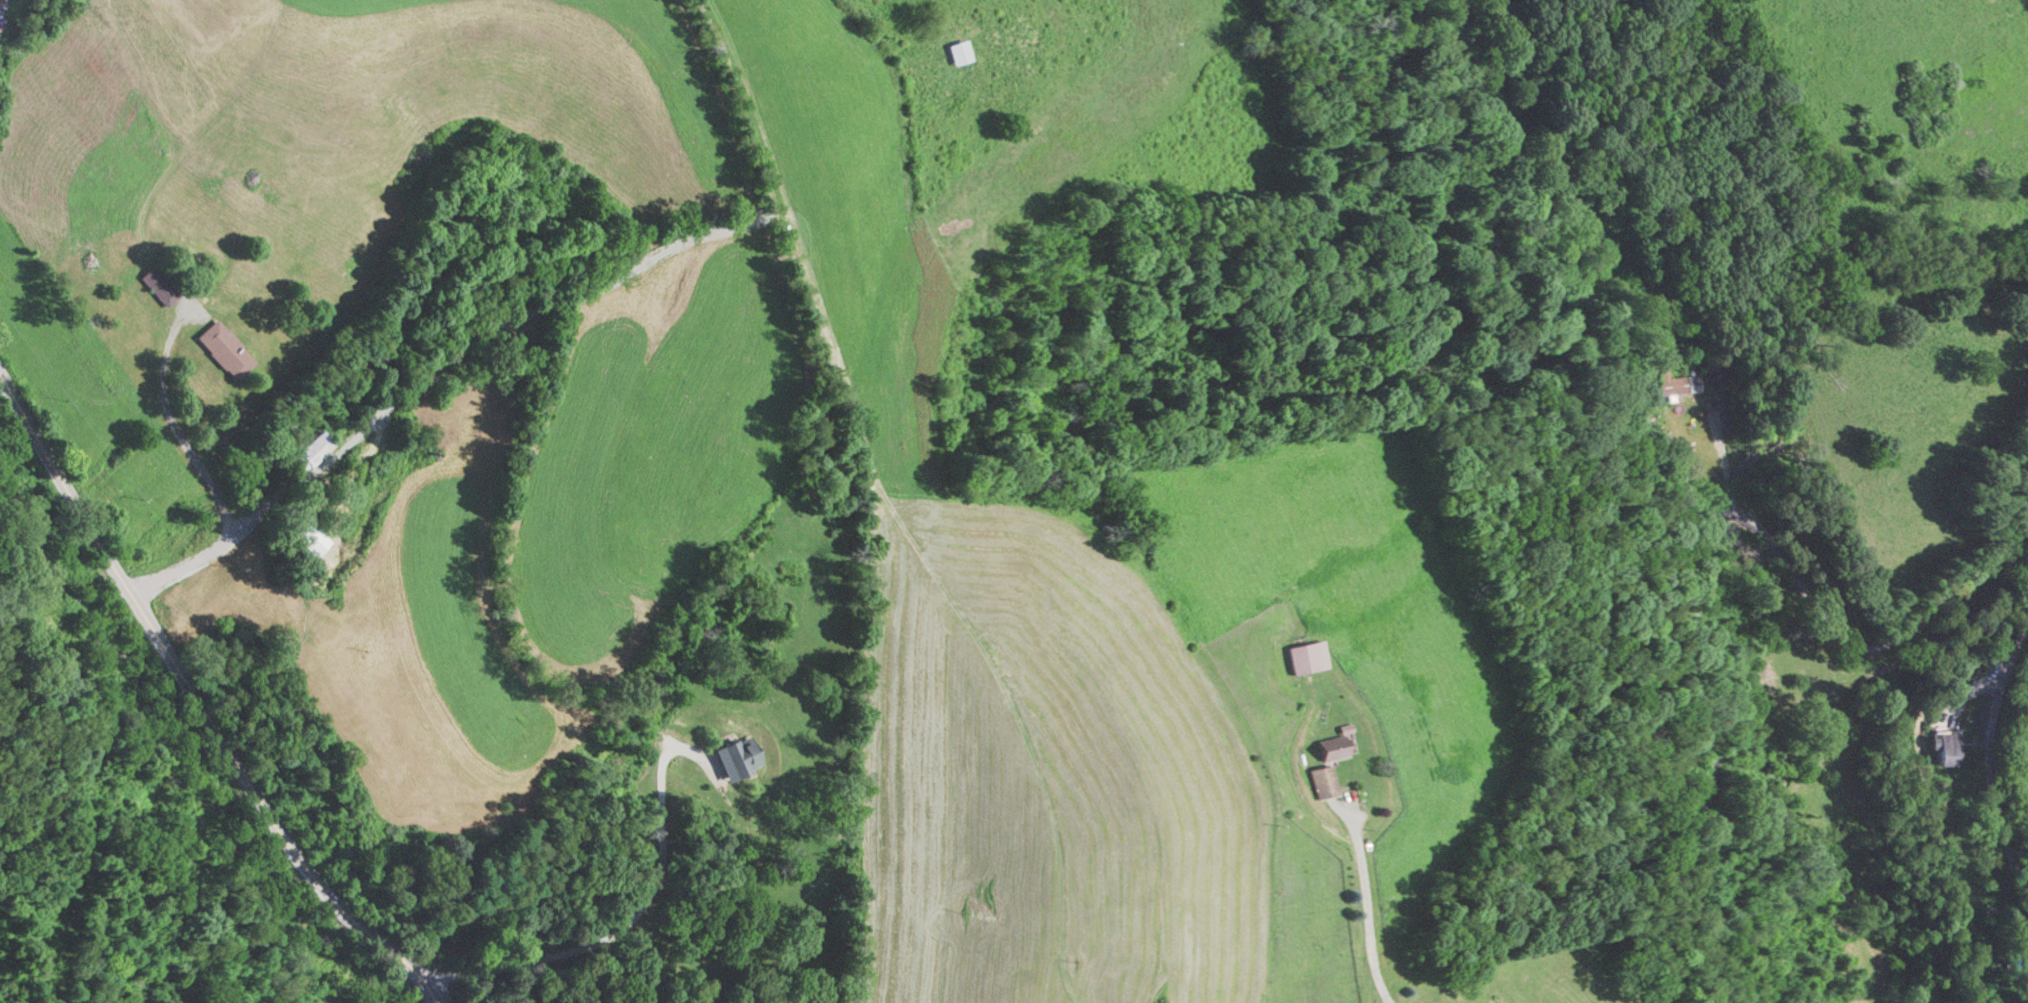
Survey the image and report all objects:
building: (958, 51)
building: (157, 285)
building: (223, 349)
building: (1716, 373)
building: (1677, 383)
building: (311, 452)
building: (309, 536)
road: (1698, 546)
building: (1307, 654)
road: (198, 702)
building: (1333, 748)
building: (1945, 748)
building: (735, 757)
road: (1995, 768)
building: (1324, 782)
road: (1367, 908)
building: (2026, 987)

